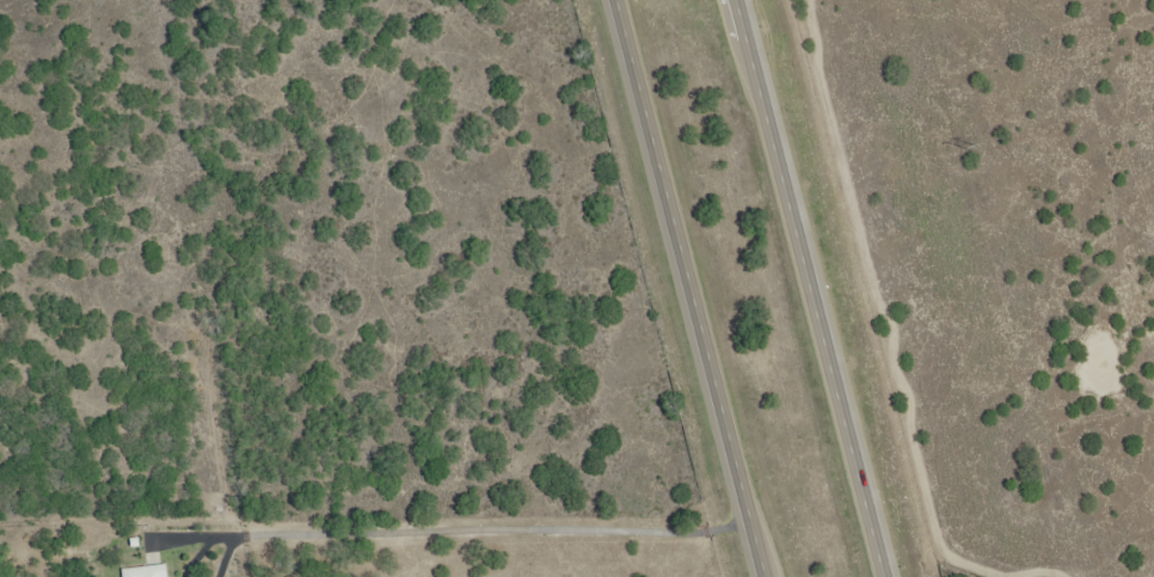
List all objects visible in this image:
power tower: (971, 146)
road: (695, 288)
road: (814, 288)
building: (149, 569)
building: (176, 576)

